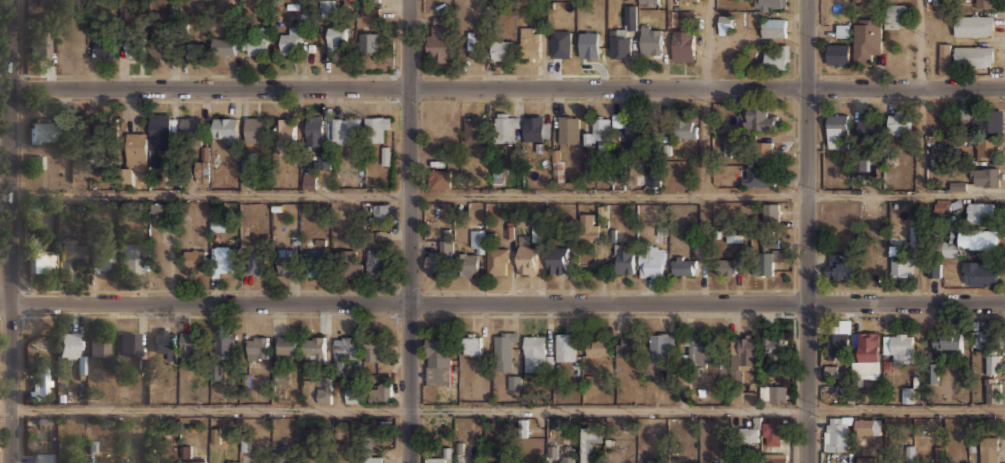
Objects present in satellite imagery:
building: (369, 0)
building: (689, 0)
building: (648, 2)
building: (40, 3)
building: (984, 3)
building: (770, 5)
building: (369, 10)
building: (895, 15)
building: (725, 24)
building: (973, 25)
building: (773, 27)
building: (842, 31)
building: (622, 34)
building: (440, 36)
building: (336, 38)
building: (650, 39)
building: (866, 39)
building: (292, 41)
building: (368, 42)
building: (529, 42)
building: (589, 42)
building: (256, 43)
road: (706, 44)
road: (920, 44)
building: (40, 45)
building: (223, 45)
building: (561, 45)
building: (682, 45)
building: (160, 47)
building: (103, 48)
building: (134, 48)
building: (193, 49)
building: (502, 49)
building: (837, 54)
building: (973, 54)
building: (777, 57)
building: (943, 58)
road: (507, 89)
building: (756, 118)
building: (619, 120)
building: (987, 120)
building: (898, 123)
building: (836, 125)
building: (190, 126)
building: (376, 127)
building: (506, 127)
building: (535, 127)
building: (686, 127)
building: (226, 128)
building: (257, 128)
building: (104, 129)
building: (473, 129)
building: (567, 129)
building: (869, 129)
building: (42, 130)
building: (160, 130)
building: (314, 130)
building: (345, 130)
building: (285, 131)
building: (634, 132)
building: (598, 133)
road: (704, 144)
building: (987, 148)
building: (762, 150)
building: (136, 151)
building: (324, 161)
building: (37, 162)
building: (859, 164)
building: (985, 176)
building: (440, 178)
building: (653, 178)
building: (758, 179)
building: (309, 180)
building: (957, 186)
road: (507, 196)
building: (381, 211)
building: (979, 211)
building: (771, 213)
building: (592, 224)
building: (538, 228)
road: (10, 231)
road: (408, 231)
road: (806, 231)
building: (970, 240)
building: (440, 253)
building: (68, 254)
building: (472, 255)
building: (102, 257)
building: (526, 258)
building: (623, 258)
building: (130, 259)
building: (225, 259)
building: (556, 259)
building: (195, 260)
building: (375, 260)
building: (498, 260)
building: (40, 261)
building: (765, 261)
building: (255, 262)
building: (316, 262)
building: (348, 262)
building: (287, 263)
building: (651, 264)
building: (725, 265)
building: (838, 265)
building: (684, 266)
building: (901, 266)
building: (934, 270)
building: (977, 274)
road: (502, 304)
building: (982, 338)
building: (164, 341)
building: (191, 341)
building: (947, 342)
building: (129, 343)
building: (628, 343)
building: (836, 343)
building: (67, 344)
building: (226, 344)
building: (472, 344)
building: (775, 345)
building: (899, 345)
building: (100, 346)
building: (257, 346)
building: (287, 346)
building: (345, 346)
building: (566, 346)
building: (599, 346)
building: (661, 346)
building: (313, 348)
building: (372, 350)
building: (505, 350)
building: (701, 350)
building: (534, 352)
building: (865, 352)
building: (742, 354)
building: (438, 360)
building: (993, 363)
building: (830, 372)
building: (932, 373)
building: (515, 383)
building: (42, 386)
building: (355, 390)
building: (993, 390)
building: (380, 391)
building: (325, 392)
building: (773, 393)
building: (907, 395)
road: (502, 410)
building: (868, 426)
building: (773, 430)
building: (752, 433)
building: (835, 433)
building: (589, 443)
building: (989, 448)
building: (940, 453)
building: (908, 454)
building: (567, 455)
building: (44, 457)
building: (375, 459)
building: (434, 459)
building: (474, 459)
building: (773, 459)
building: (865, 459)
building: (195, 460)
building: (654, 461)
building: (925, 461)
building: (163, 462)
building: (233, 462)
building: (742, 462)
building: (968, 462)

